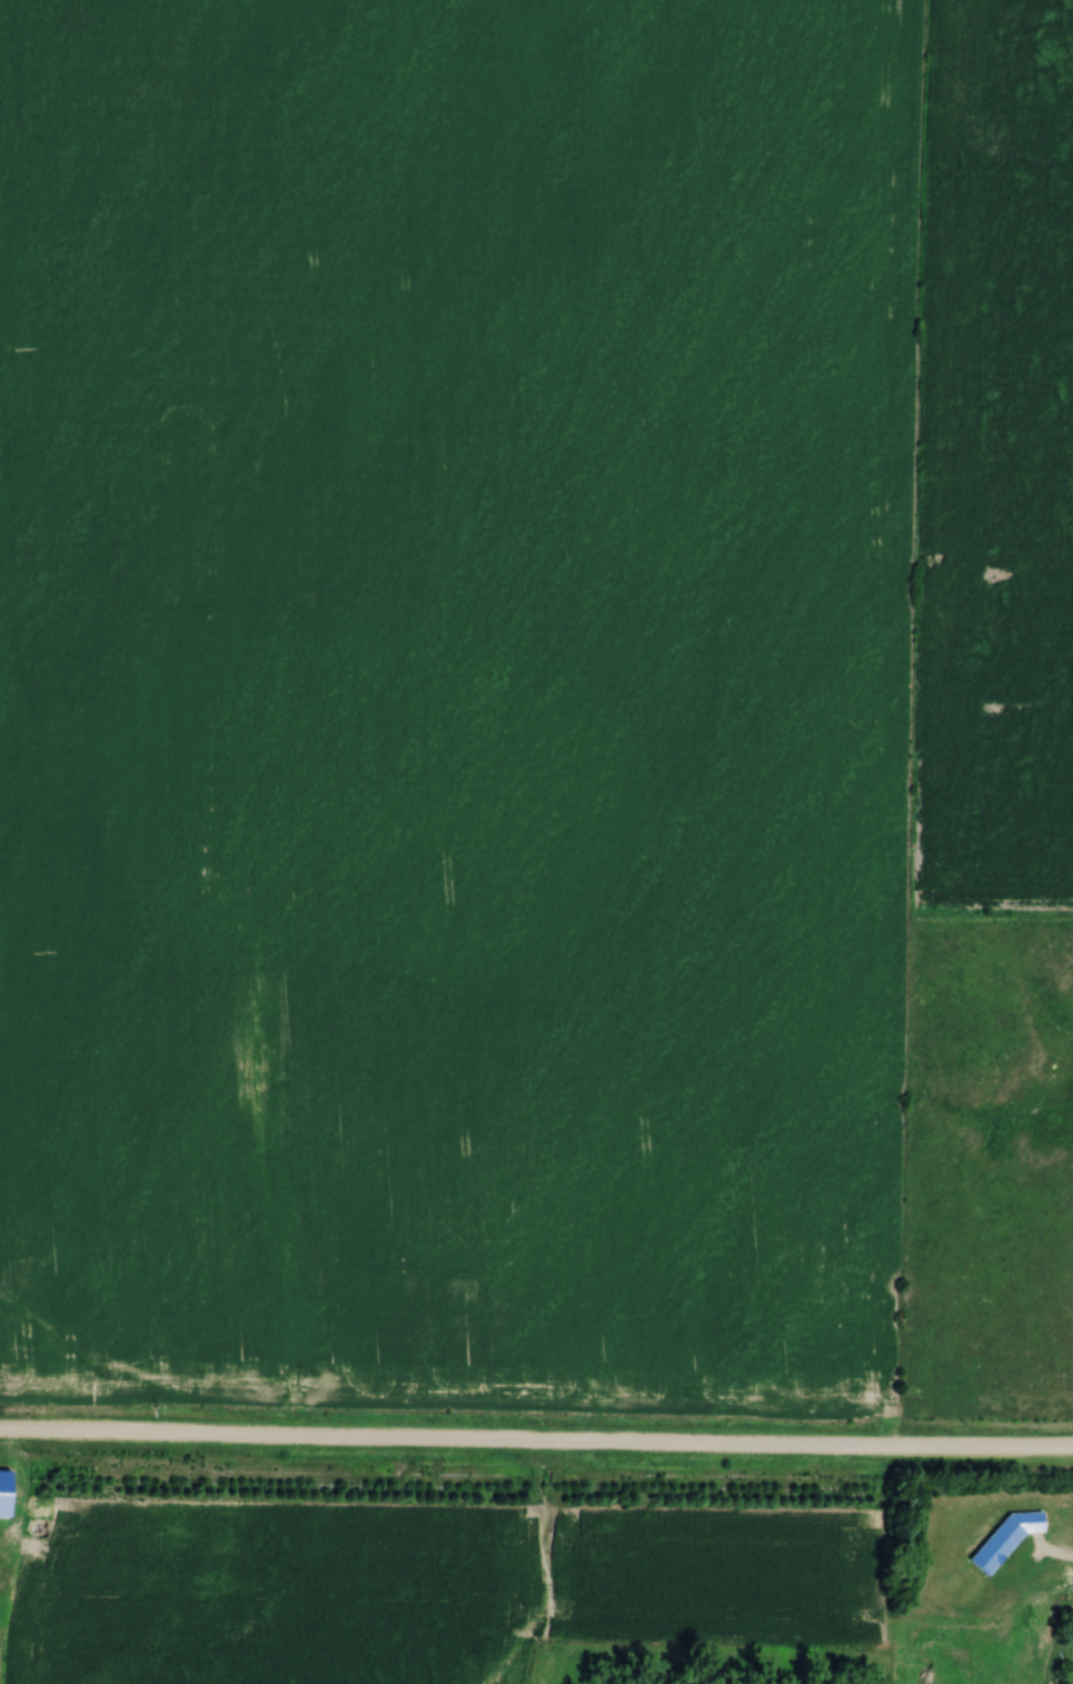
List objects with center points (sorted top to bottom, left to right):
road: (536, 1446)
building: (999, 1541)

